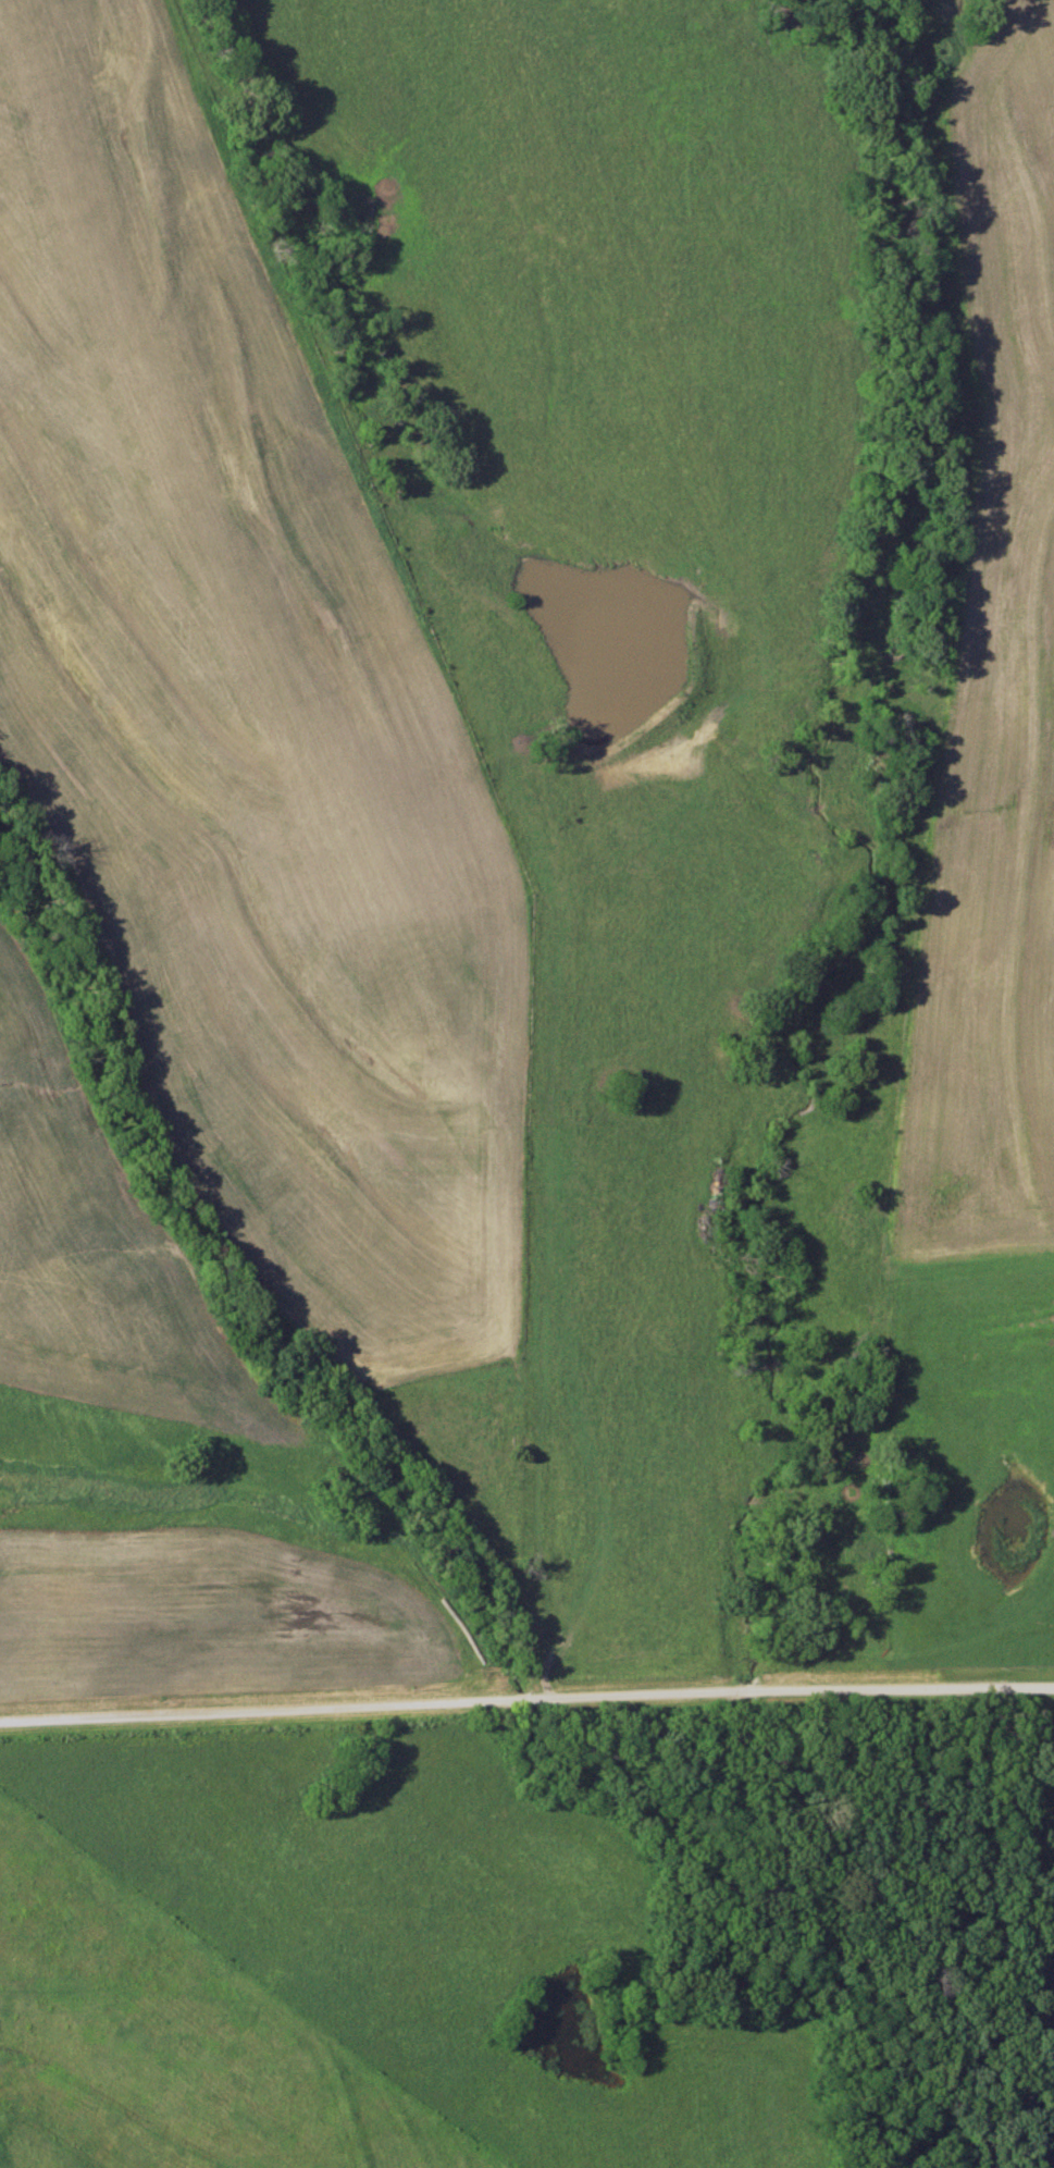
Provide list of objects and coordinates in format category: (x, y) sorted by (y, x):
road: (526, 1700)

